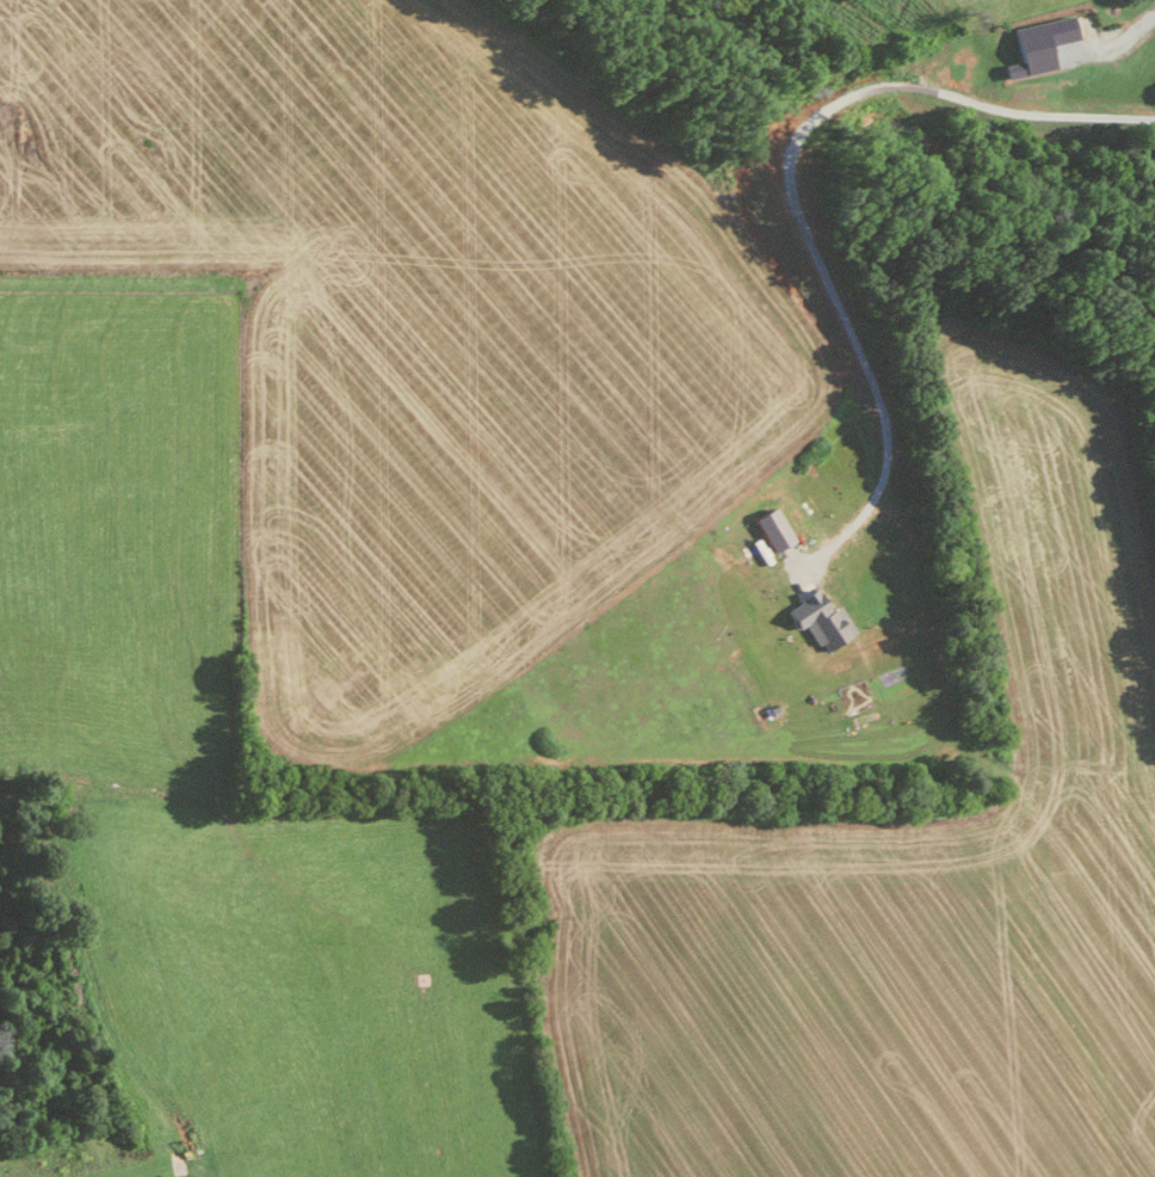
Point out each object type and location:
road: (1123, 33)
building: (1034, 43)
road: (850, 91)
road: (1006, 110)
road: (851, 332)

